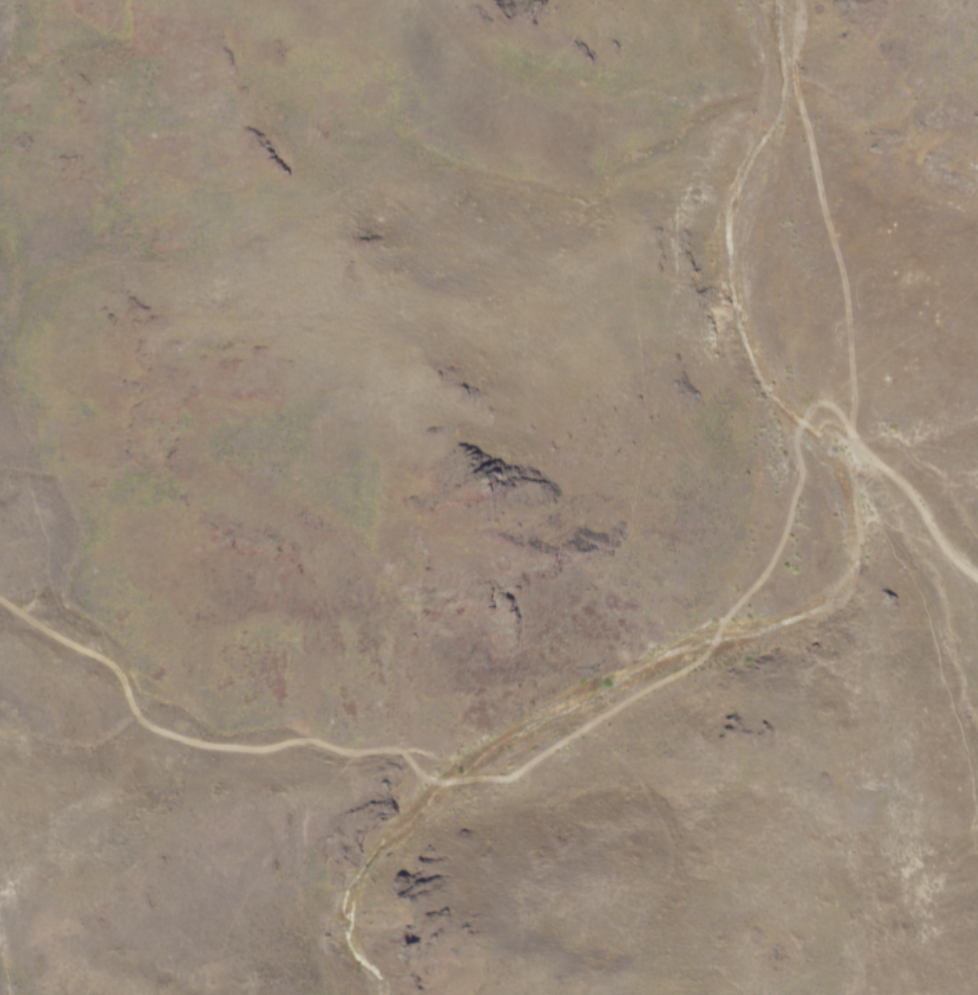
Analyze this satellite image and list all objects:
road: (828, 221)
road: (922, 504)
road: (509, 776)

